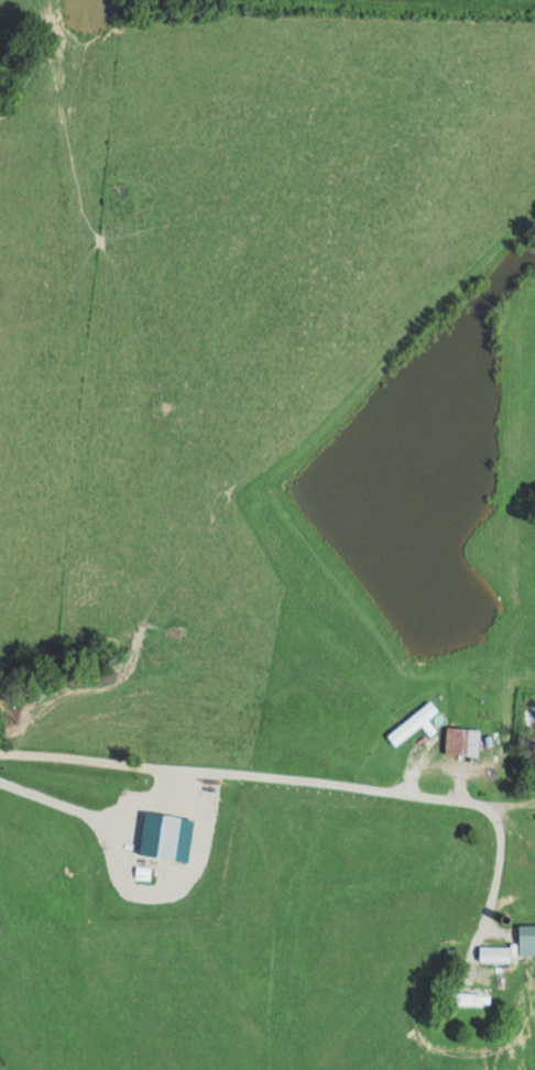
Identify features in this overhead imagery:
building: (460, 741)
building: (534, 742)
road: (303, 779)
building: (142, 820)
building: (510, 940)
building: (474, 1001)

